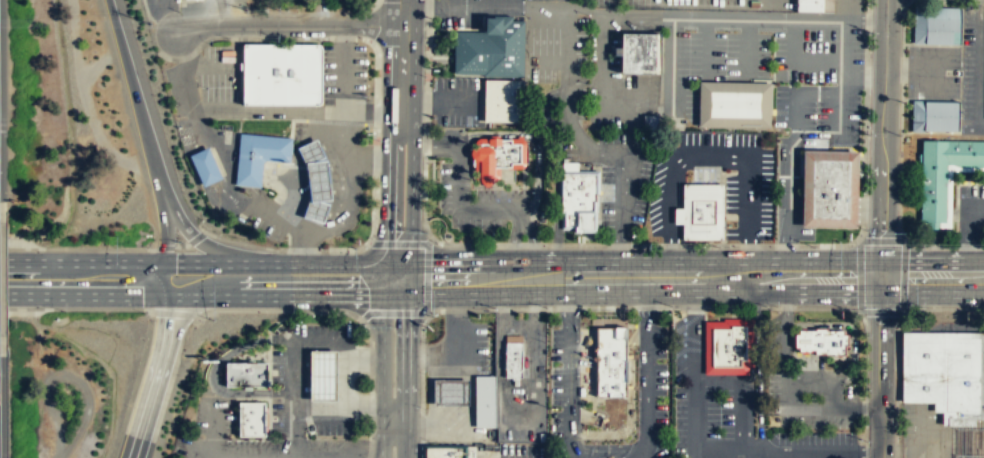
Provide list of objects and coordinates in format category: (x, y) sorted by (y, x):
building: (819, 4)
road: (517, 7)
road: (864, 16)
road: (783, 18)
power tower: (151, 22)
road: (604, 24)
building: (935, 24)
road: (288, 26)
street lamp: (870, 32)
street lamp: (318, 39)
street lamp: (211, 43)
road: (746, 46)
building: (491, 47)
road: (706, 47)
building: (640, 54)
road: (548, 61)
road: (796, 62)
road: (401, 64)
road: (981, 64)
road: (671, 65)
parking lot: (933, 71)
building: (281, 73)
road: (864, 74)
road: (584, 75)
building: (503, 100)
building: (735, 103)
building: (932, 115)
street lamp: (868, 134)
road: (884, 137)
road: (534, 138)
road: (148, 146)
building: (257, 156)
building: (497, 156)
road: (711, 157)
road: (790, 159)
building: (204, 165)
building: (942, 171)
building: (315, 180)
gas station: (315, 180)
road: (622, 184)
road: (459, 187)
building: (831, 187)
road: (386, 193)
building: (580, 199)
road: (410, 209)
building: (703, 210)
parking lot: (970, 213)
street lamp: (865, 230)
street lamp: (538, 231)
road: (970, 234)
road: (191, 235)
road: (532, 246)
road: (510, 247)
road: (192, 262)
traffic signals: (385, 263)
road: (397, 263)
traffic signals: (410, 263)
road: (426, 270)
traffic signals: (882, 276)
road: (932, 276)
road: (662, 277)
road: (385, 279)
road: (426, 286)
traffic signals: (409, 294)
traffic signals: (385, 295)
traffic signals: (166, 296)
road: (204, 296)
building: (823, 341)
building: (729, 345)
road: (295, 349)
road: (364, 356)
building: (513, 360)
building: (611, 361)
road: (882, 367)
road: (211, 371)
building: (245, 373)
building: (944, 373)
building: (322, 375)
gas station: (322, 375)
road: (404, 375)
road: (346, 376)
road: (382, 376)
road: (155, 378)
building: (451, 391)
gas station: (451, 391)
building: (485, 401)
road: (329, 407)
road: (384, 407)
building: (250, 419)
road: (214, 428)
road: (294, 432)
building: (444, 452)
road: (217, 456)
road: (337, 456)
road: (268, 457)
road: (318, 457)

